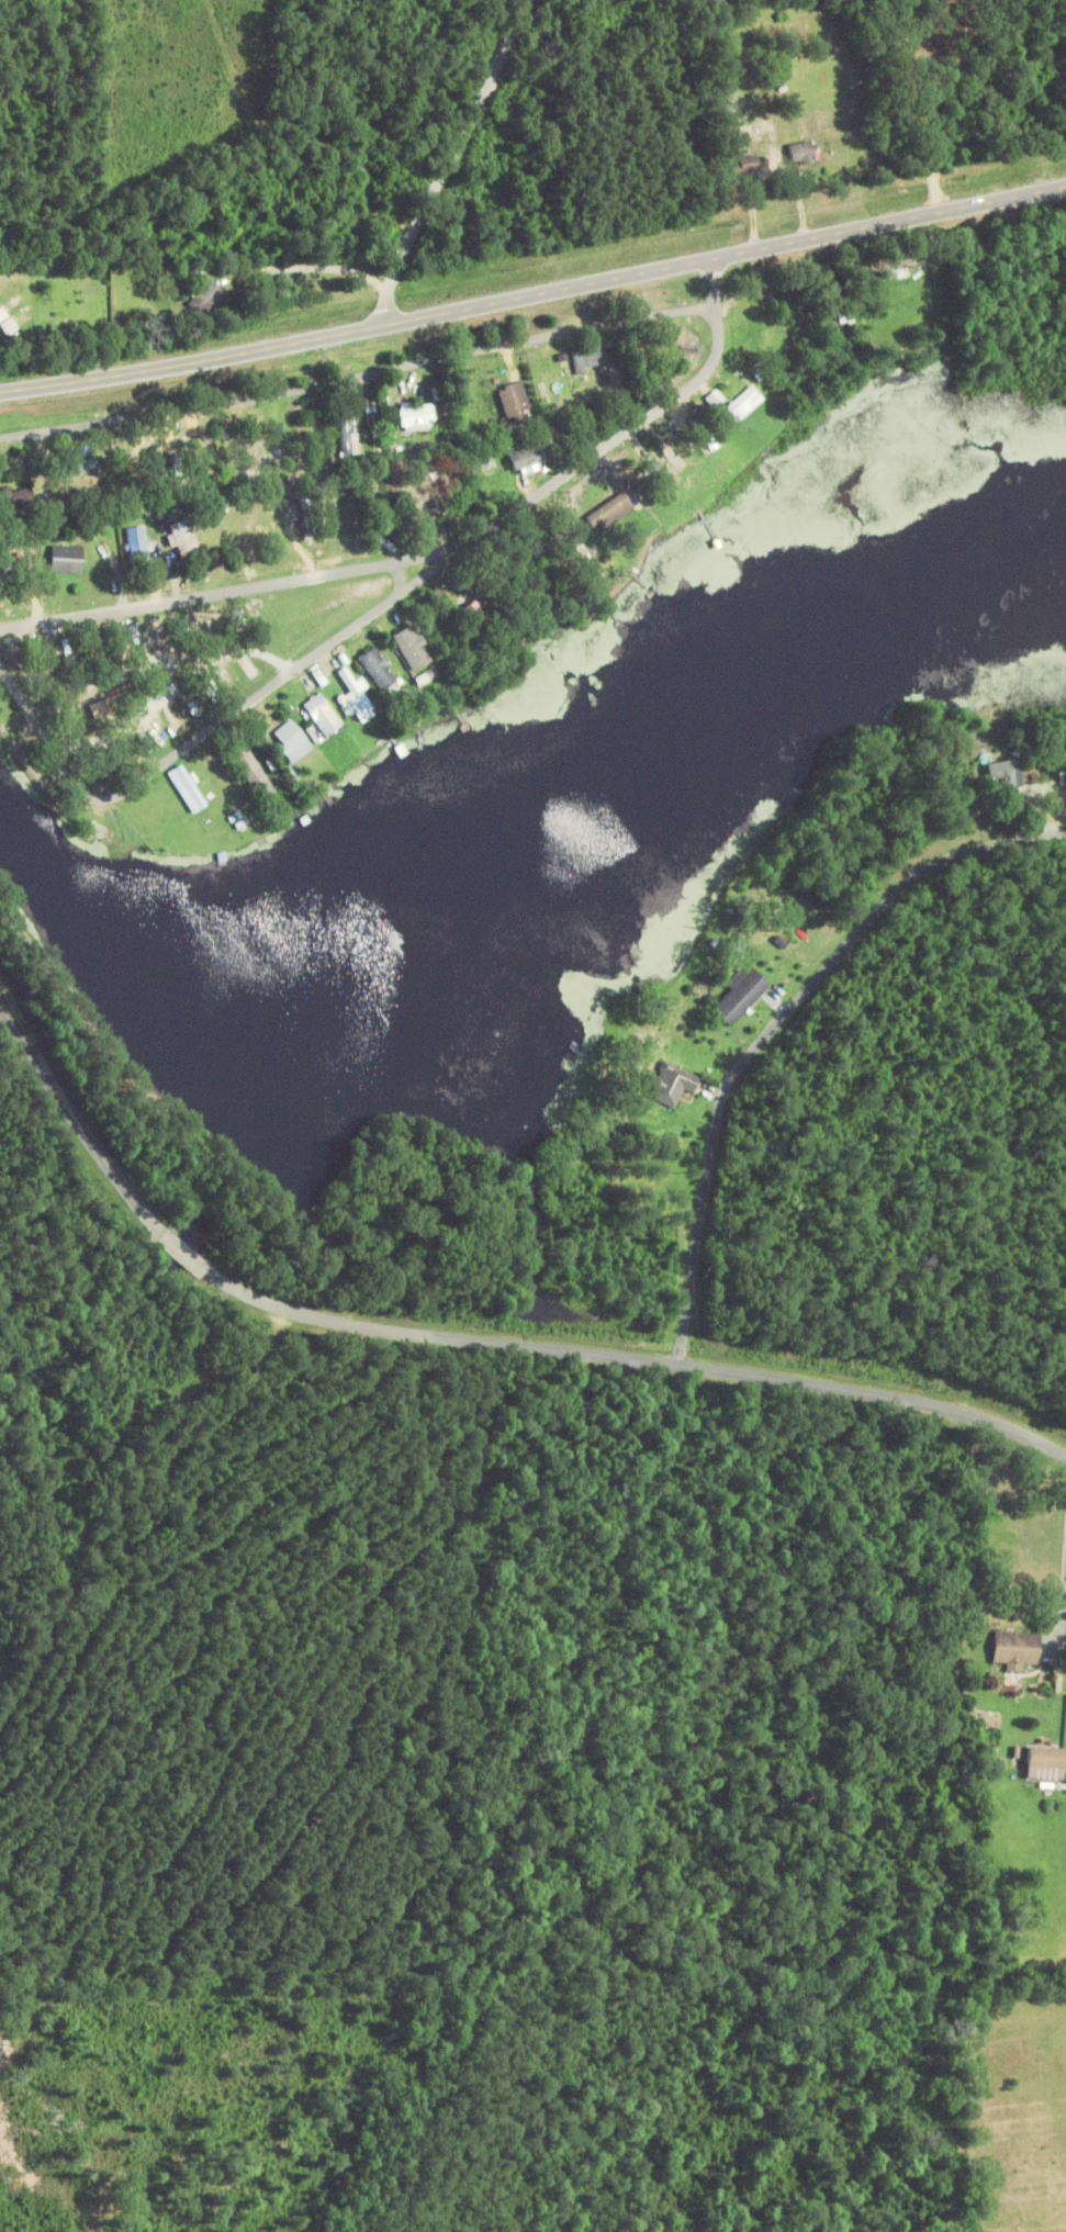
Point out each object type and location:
building: (1056, 79)
building: (800, 154)
road: (417, 164)
building: (747, 166)
building: (887, 268)
road: (534, 295)
building: (205, 299)
building: (7, 323)
building: (672, 354)
building: (588, 359)
road: (358, 375)
building: (553, 385)
building: (515, 403)
building: (743, 405)
building: (417, 418)
building: (346, 445)
building: (529, 458)
building: (487, 461)
building: (165, 469)
building: (24, 500)
building: (439, 503)
building: (306, 513)
building: (182, 540)
building: (138, 545)
building: (586, 548)
road: (451, 556)
building: (68, 560)
road: (227, 591)
building: (413, 649)
road: (159, 660)
building: (378, 670)
building: (356, 694)
building: (111, 706)
building: (324, 715)
road: (45, 738)
building: (293, 742)
building: (251, 771)
building: (1003, 779)
building: (187, 789)
road: (848, 949)
building: (741, 996)
dam: (133, 1075)
building: (671, 1085)
road: (81, 1128)
road: (190, 1260)
road: (695, 1263)
river: (97, 1281)
road: (640, 1357)
building: (1018, 1650)
building: (1047, 1764)

